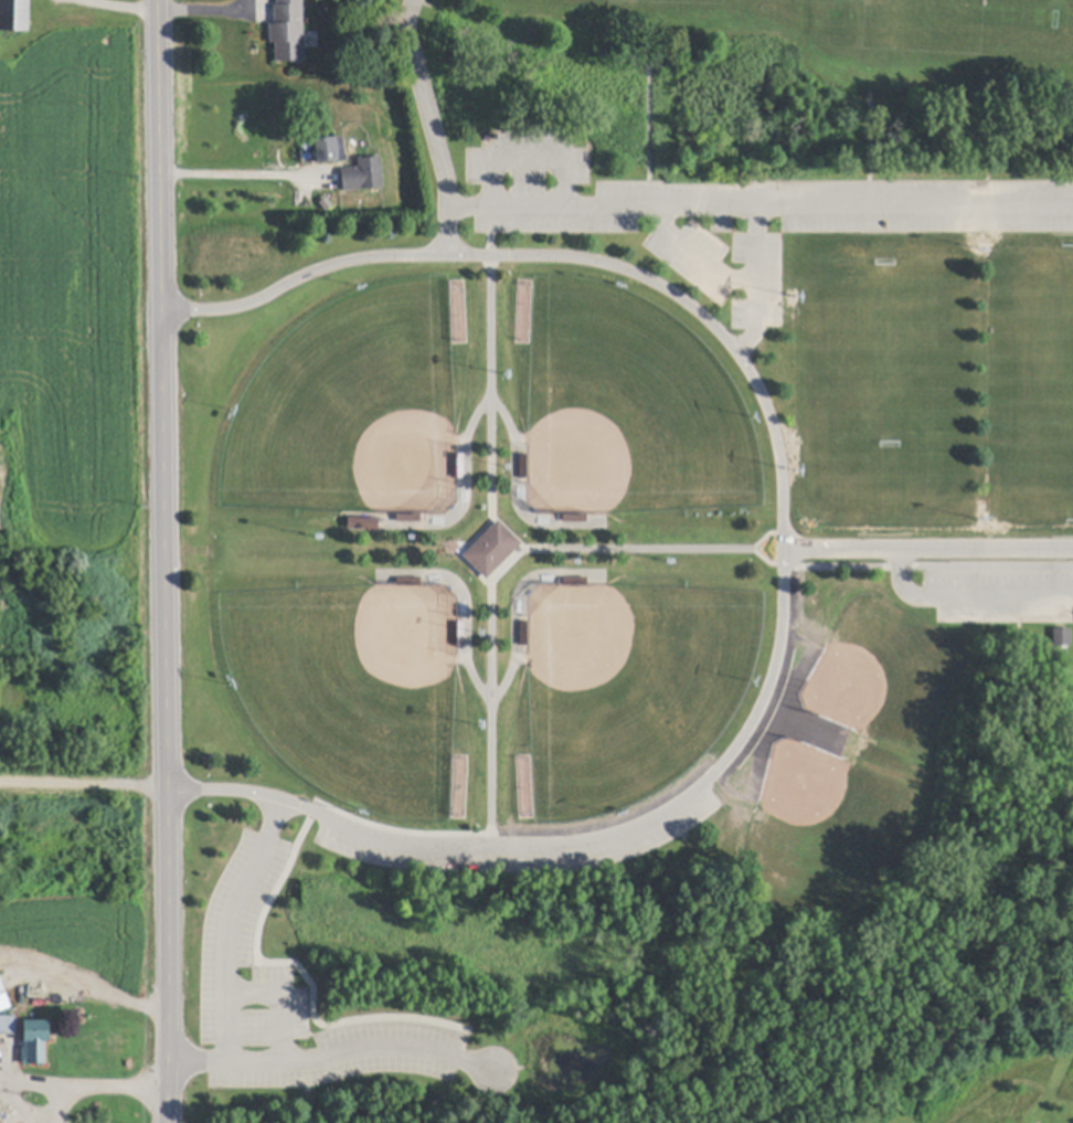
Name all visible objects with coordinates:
building: (14, 15)
building: (288, 31)
road: (650, 100)
road: (432, 126)
building: (330, 150)
road: (530, 155)
road: (231, 170)
building: (363, 176)
road: (761, 205)
parking lot: (736, 212)
road: (758, 243)
road: (561, 255)
road: (730, 278)
road: (498, 405)
park: (355, 409)
park: (634, 411)
road: (491, 424)
building: (460, 466)
building: (523, 466)
building: (575, 518)
building: (408, 519)
building: (389, 525)
road: (766, 536)
flagpole: (450, 547)
building: (490, 548)
road: (615, 548)
road: (766, 560)
road: (160, 561)
road: (928, 564)
building: (575, 581)
building: (408, 582)
park: (638, 584)
road: (967, 595)
parking lot: (999, 595)
building: (460, 634)
building: (523, 634)
building: (1062, 638)
park: (634, 689)
park: (359, 690)
road: (490, 698)
road: (491, 707)
road: (82, 784)
road: (695, 791)
parking lot: (661, 829)
road: (230, 924)
building: (3, 998)
parking lot: (288, 1000)
building: (8, 1026)
building: (36, 1040)
road: (330, 1053)
building: (0, 1056)
road: (81, 1089)
road: (56, 1104)
road: (308, 1114)

